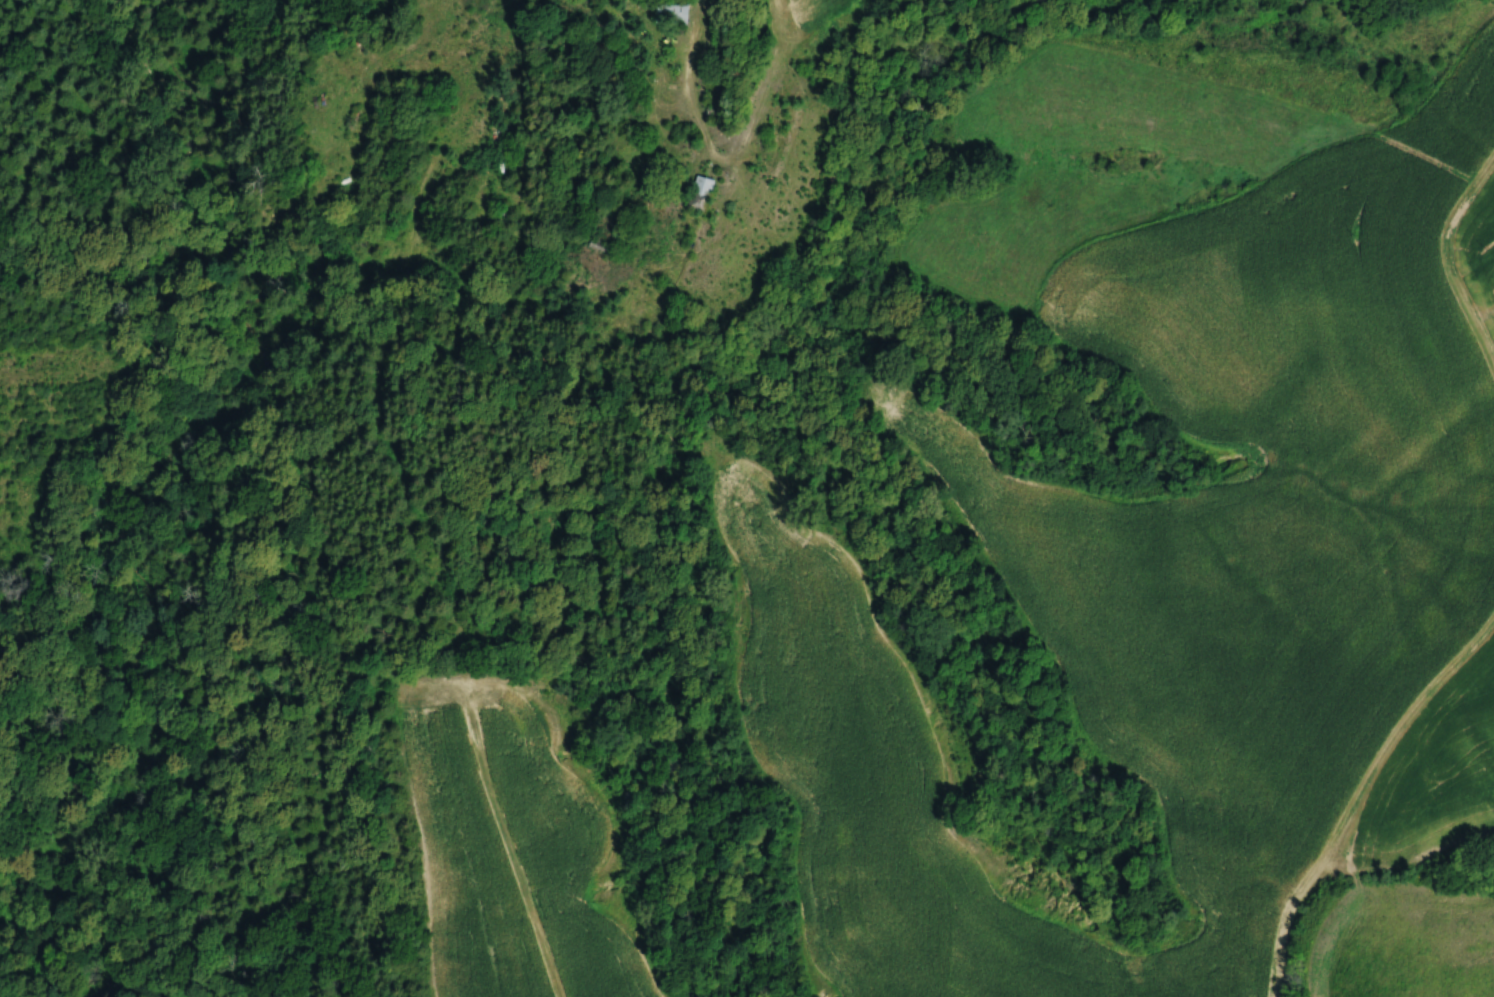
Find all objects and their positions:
building: (666, 11)
road: (687, 79)
building: (695, 193)

